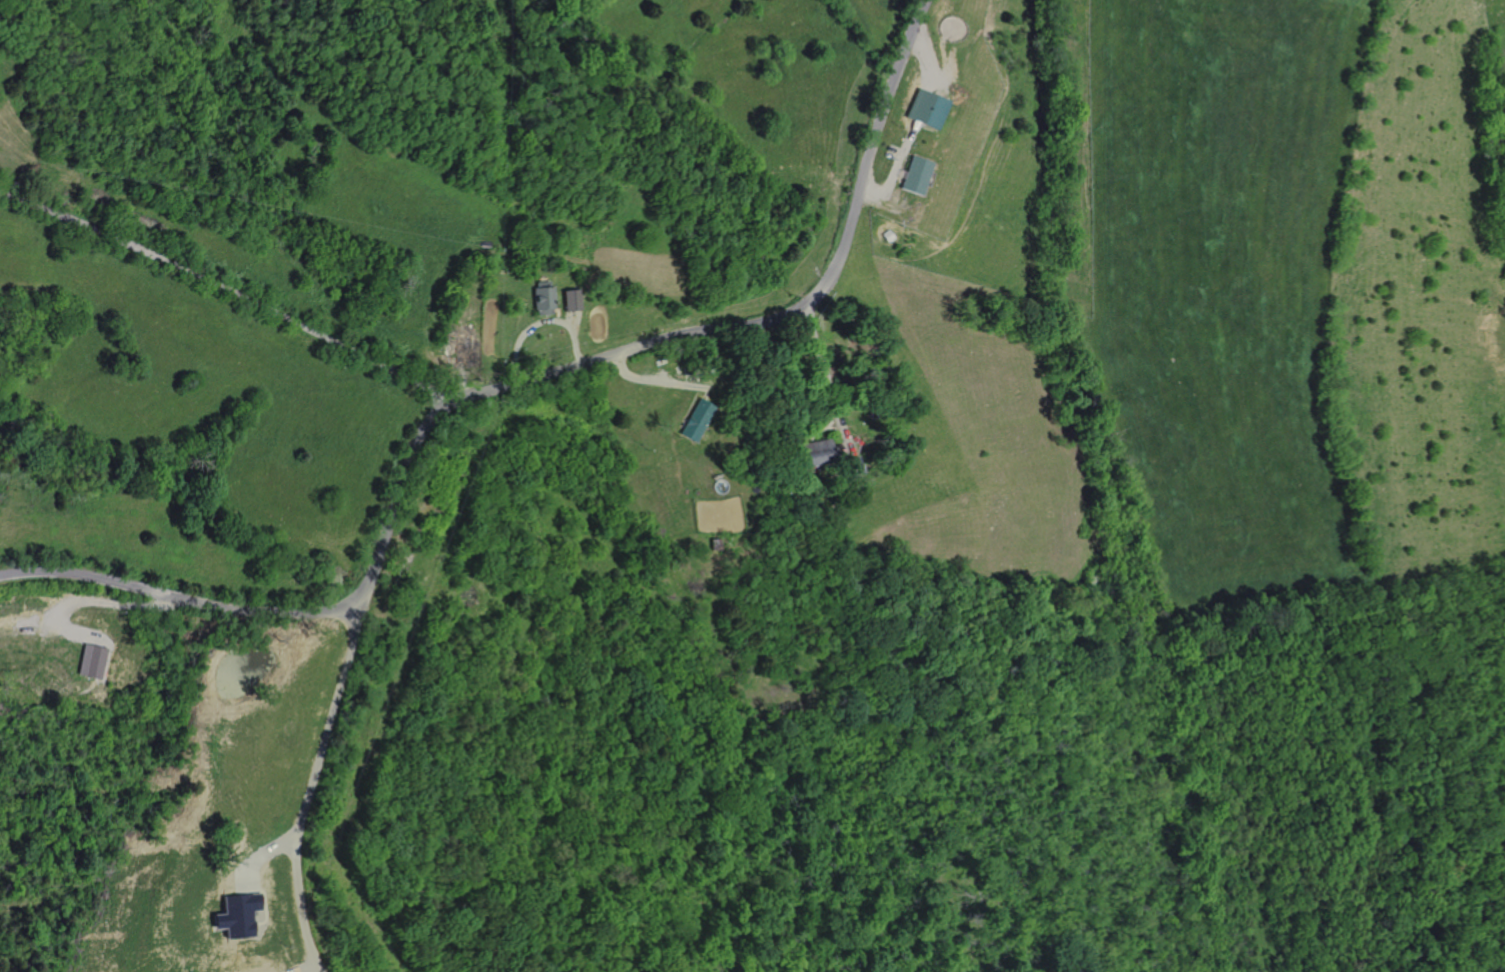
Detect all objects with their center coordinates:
road: (927, 59)
road: (922, 107)
building: (926, 109)
road: (895, 153)
road: (895, 169)
building: (916, 176)
road: (884, 204)
building: (887, 236)
road: (228, 290)
building: (542, 297)
building: (570, 299)
road: (573, 318)
road: (540, 322)
building: (460, 348)
building: (688, 369)
road: (655, 379)
road: (826, 382)
road: (505, 385)
road: (708, 394)
building: (698, 420)
road: (822, 428)
road: (833, 428)
building: (814, 452)
building: (850, 465)
road: (65, 607)
road: (36, 624)
building: (95, 661)
road: (310, 787)
road: (258, 857)
road: (262, 902)
building: (236, 914)
road: (307, 967)

